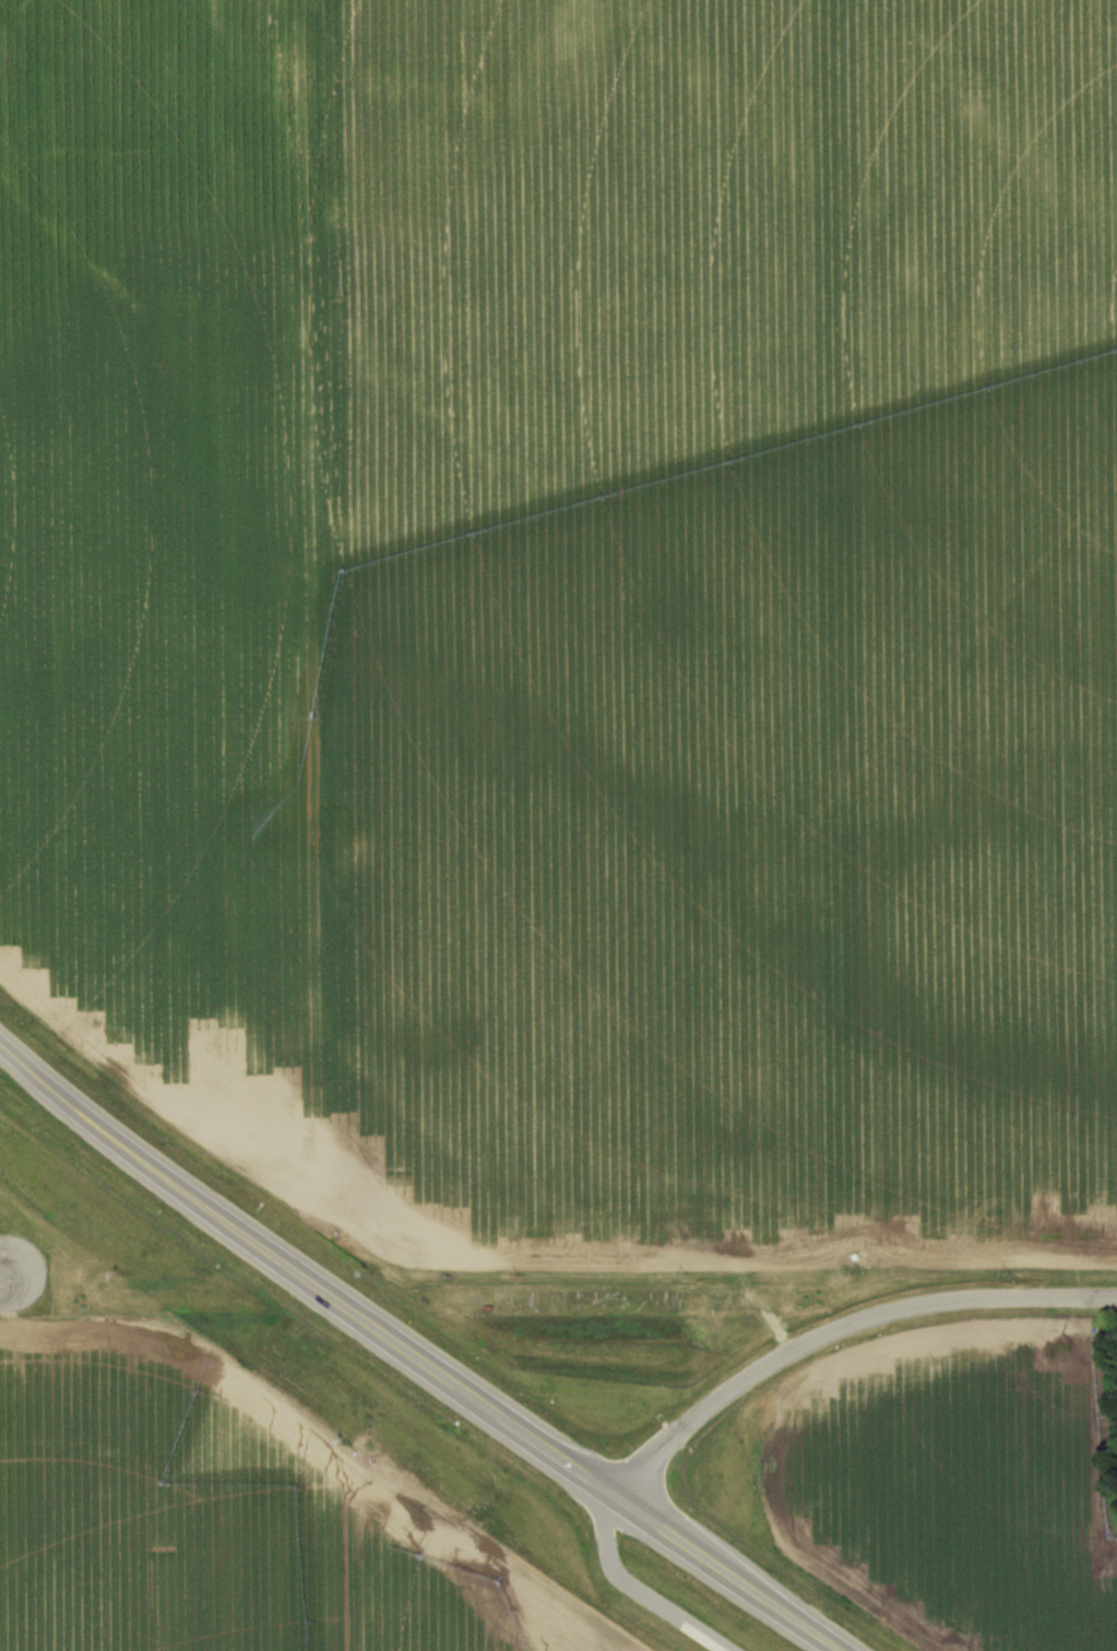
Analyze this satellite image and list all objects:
crop: (170, 560)
crop: (756, 630)
road: (12, 1281)
road: (841, 1319)
road: (429, 1346)
crop: (969, 1490)
road: (642, 1589)

